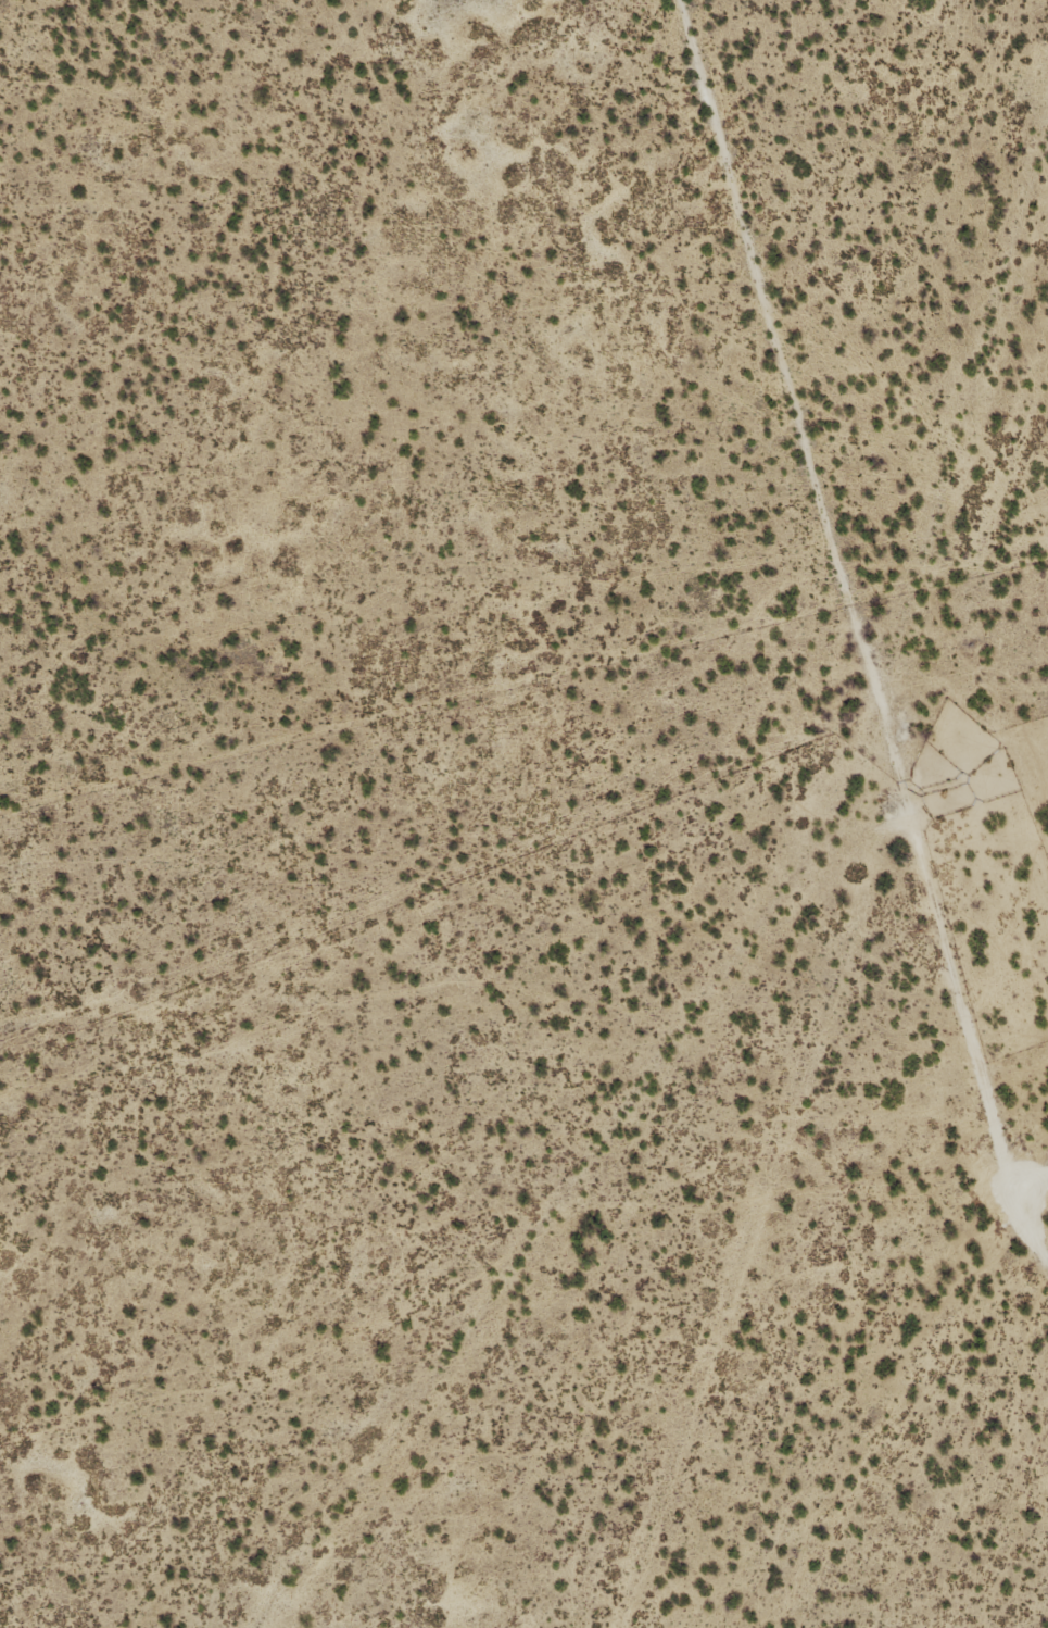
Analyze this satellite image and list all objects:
road: (857, 634)

